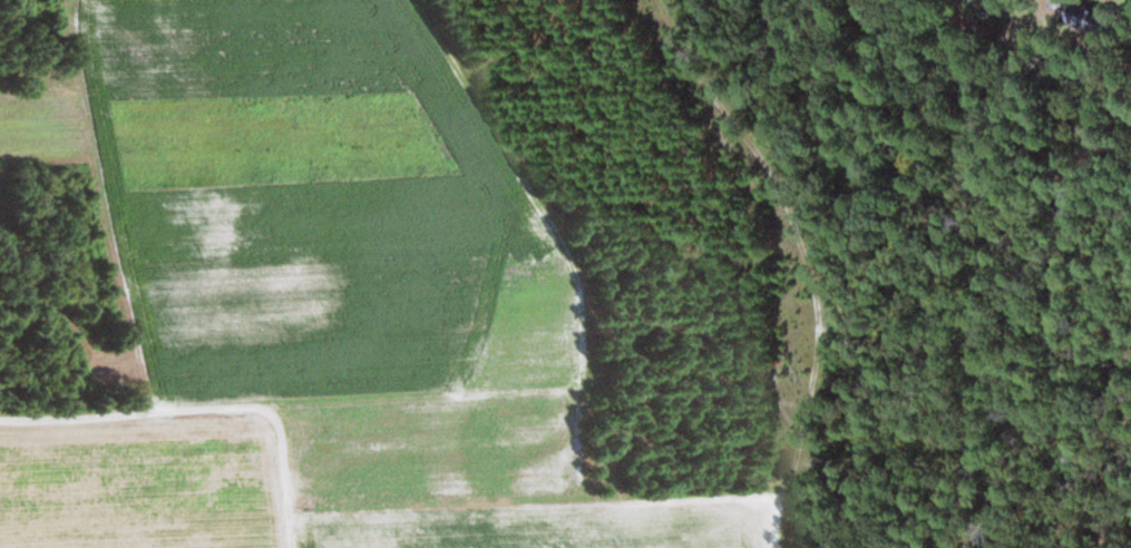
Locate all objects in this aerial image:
building: (1095, 18)

